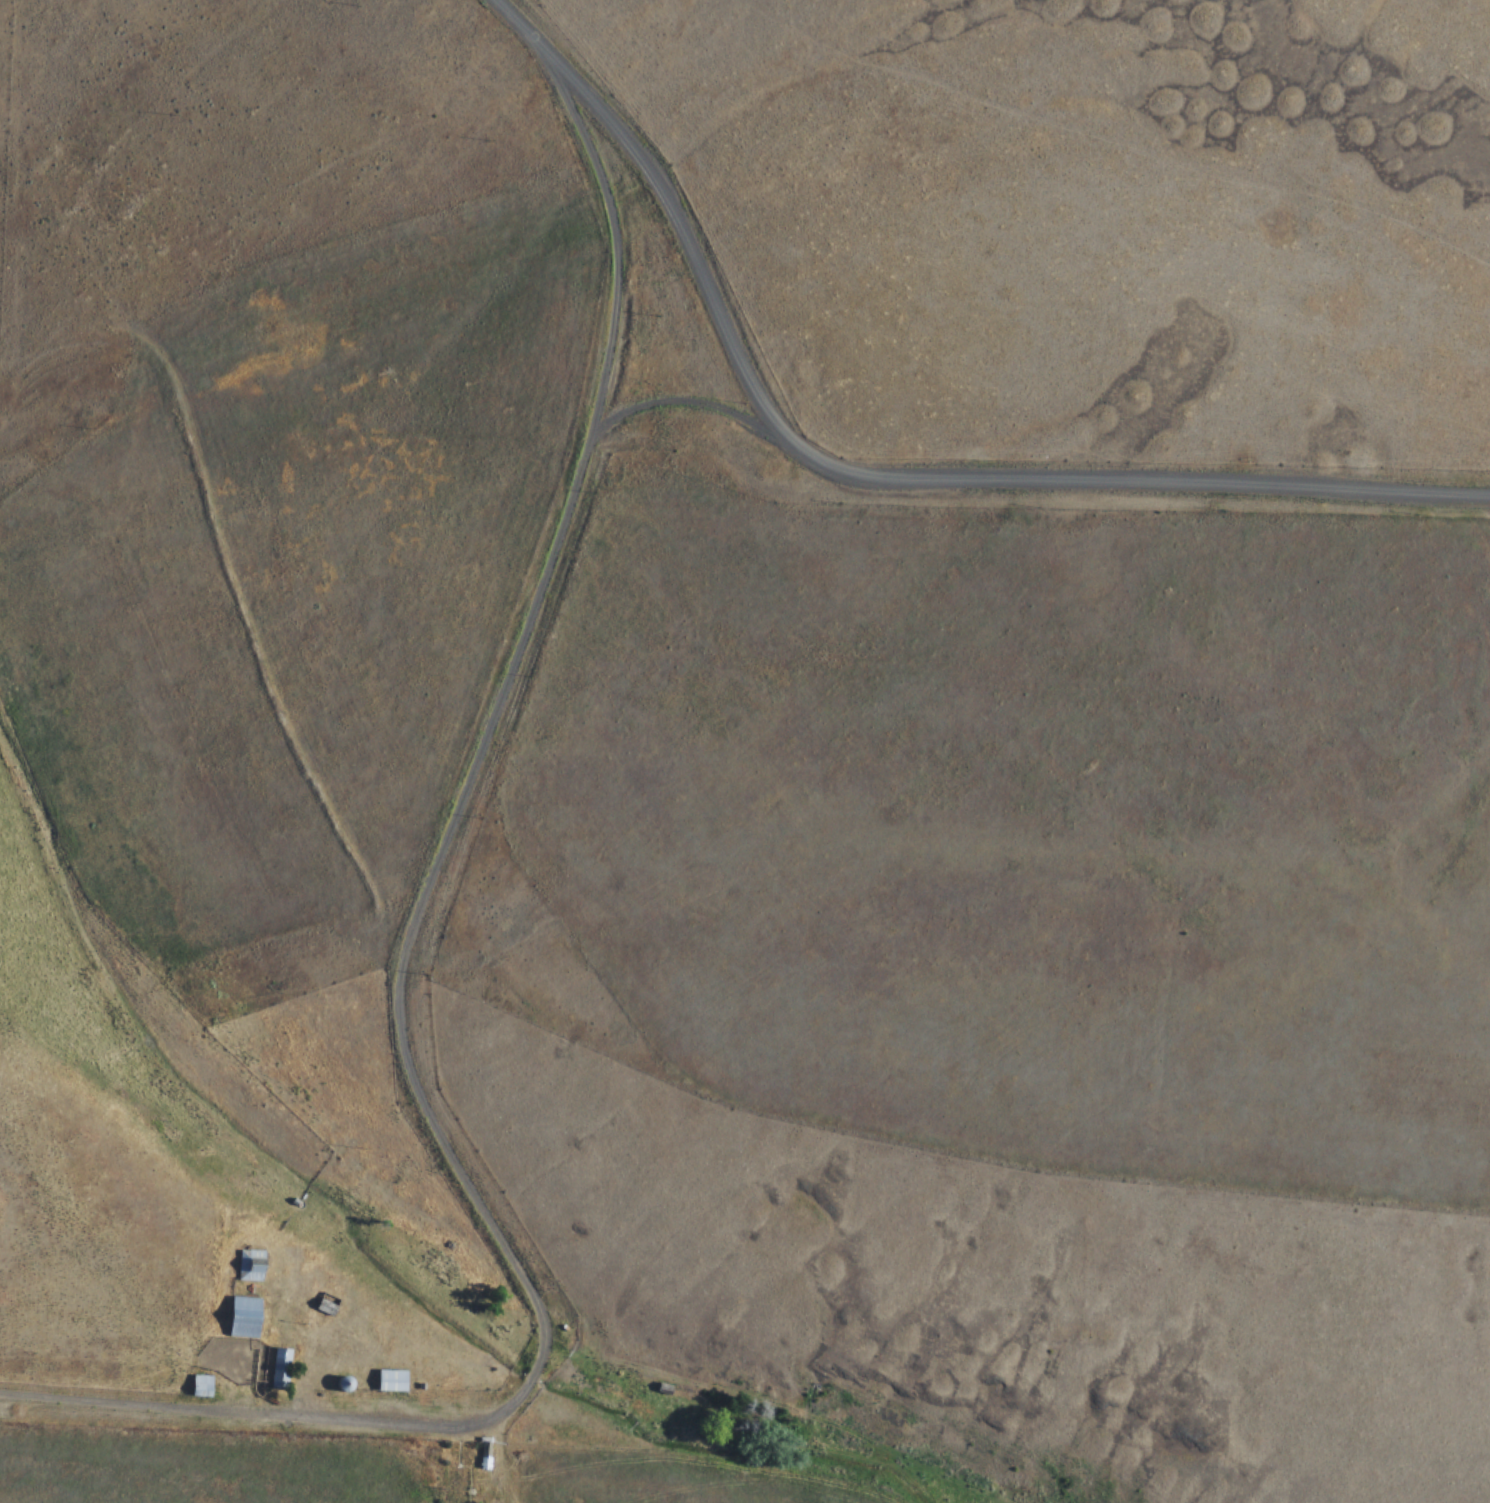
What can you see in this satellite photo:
road: (681, 404)
road: (866, 473)
road: (434, 993)
building: (250, 1266)
building: (327, 1303)
building: (242, 1318)
building: (280, 1369)
building: (249, 1380)
building: (390, 1381)
building: (343, 1384)
building: (201, 1386)

